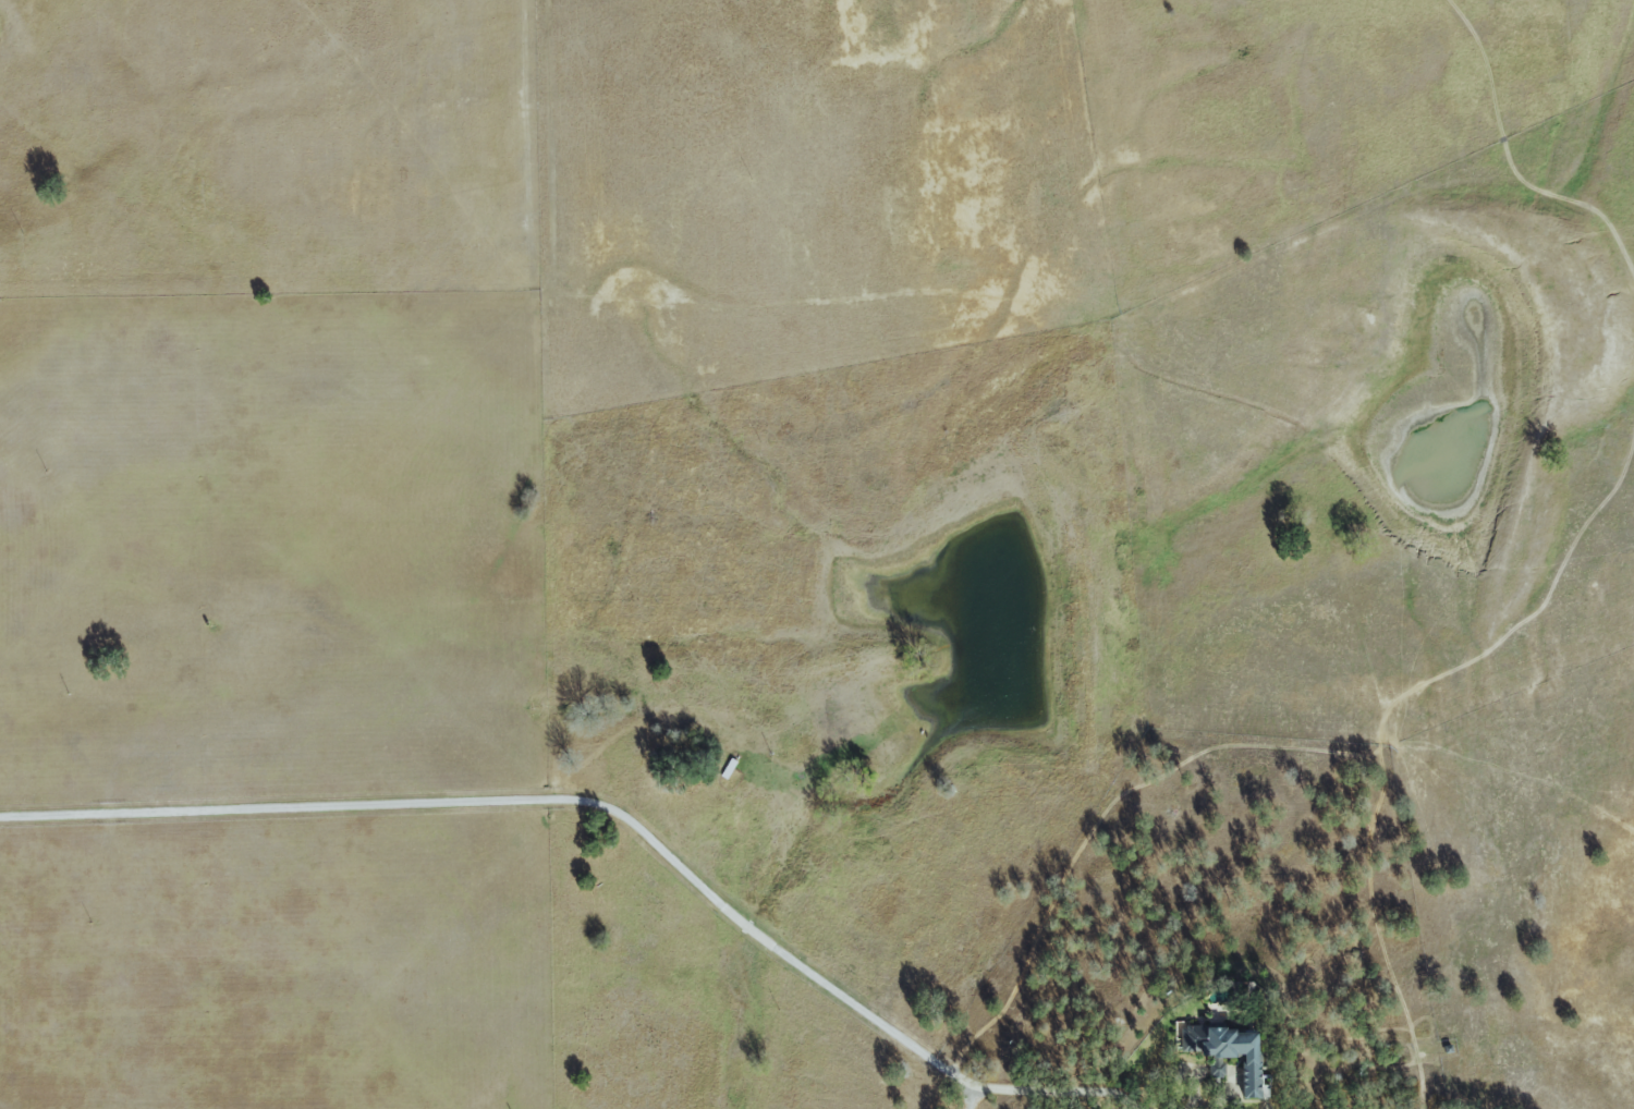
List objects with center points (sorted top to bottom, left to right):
road: (619, 814)
building: (1239, 1050)
building: (1223, 1069)
road: (971, 1099)
road: (1211, 1104)

